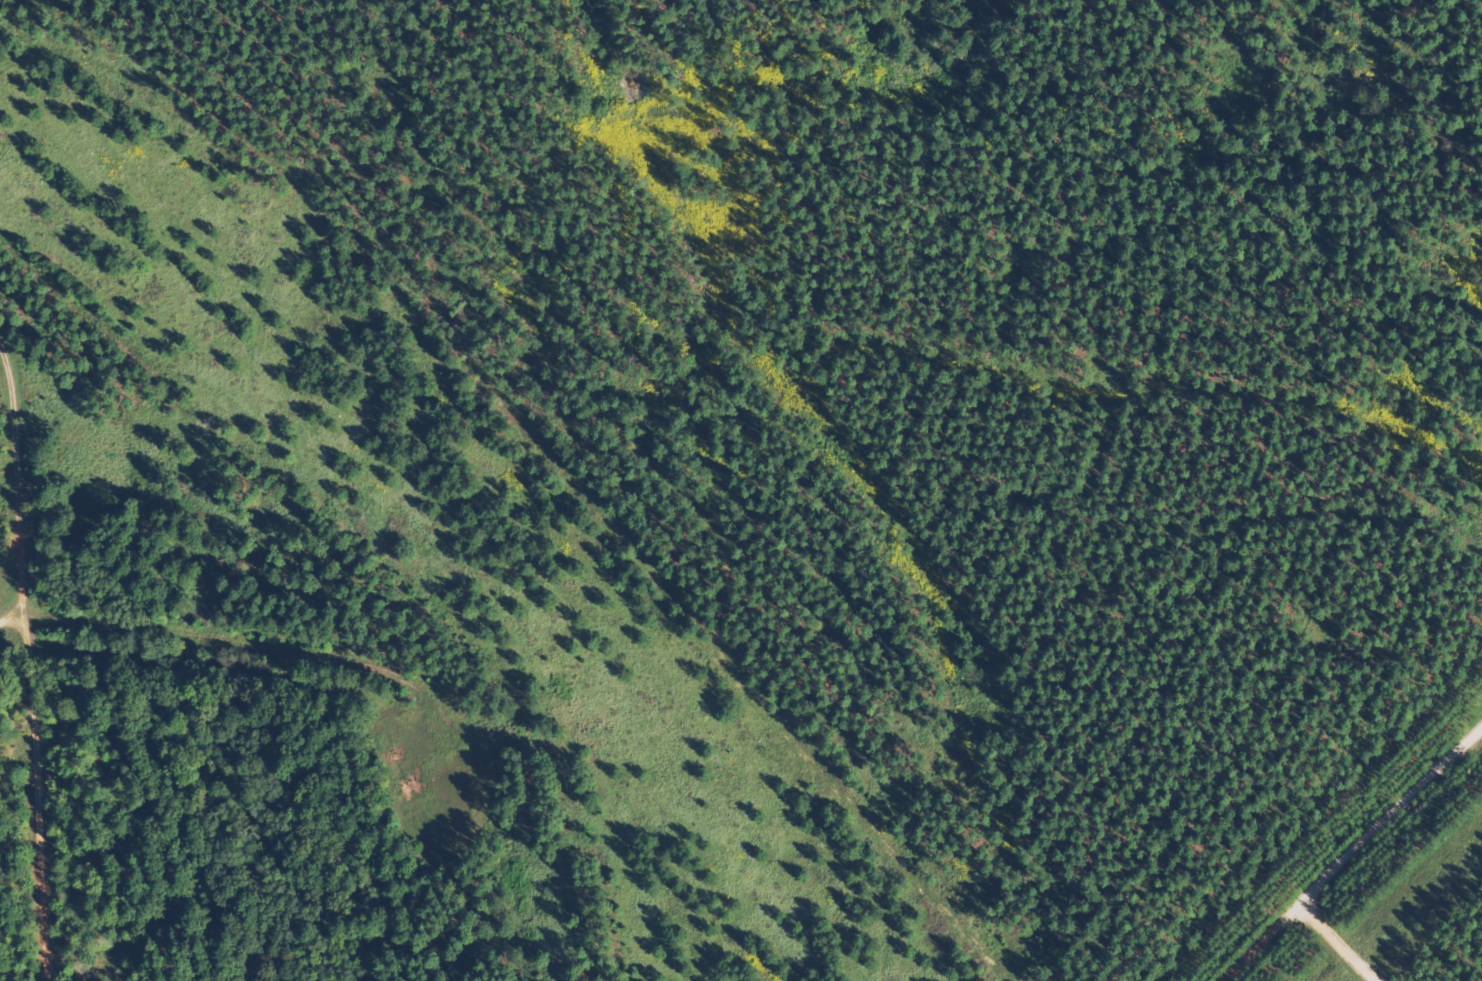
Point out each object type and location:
road: (1352, 850)

